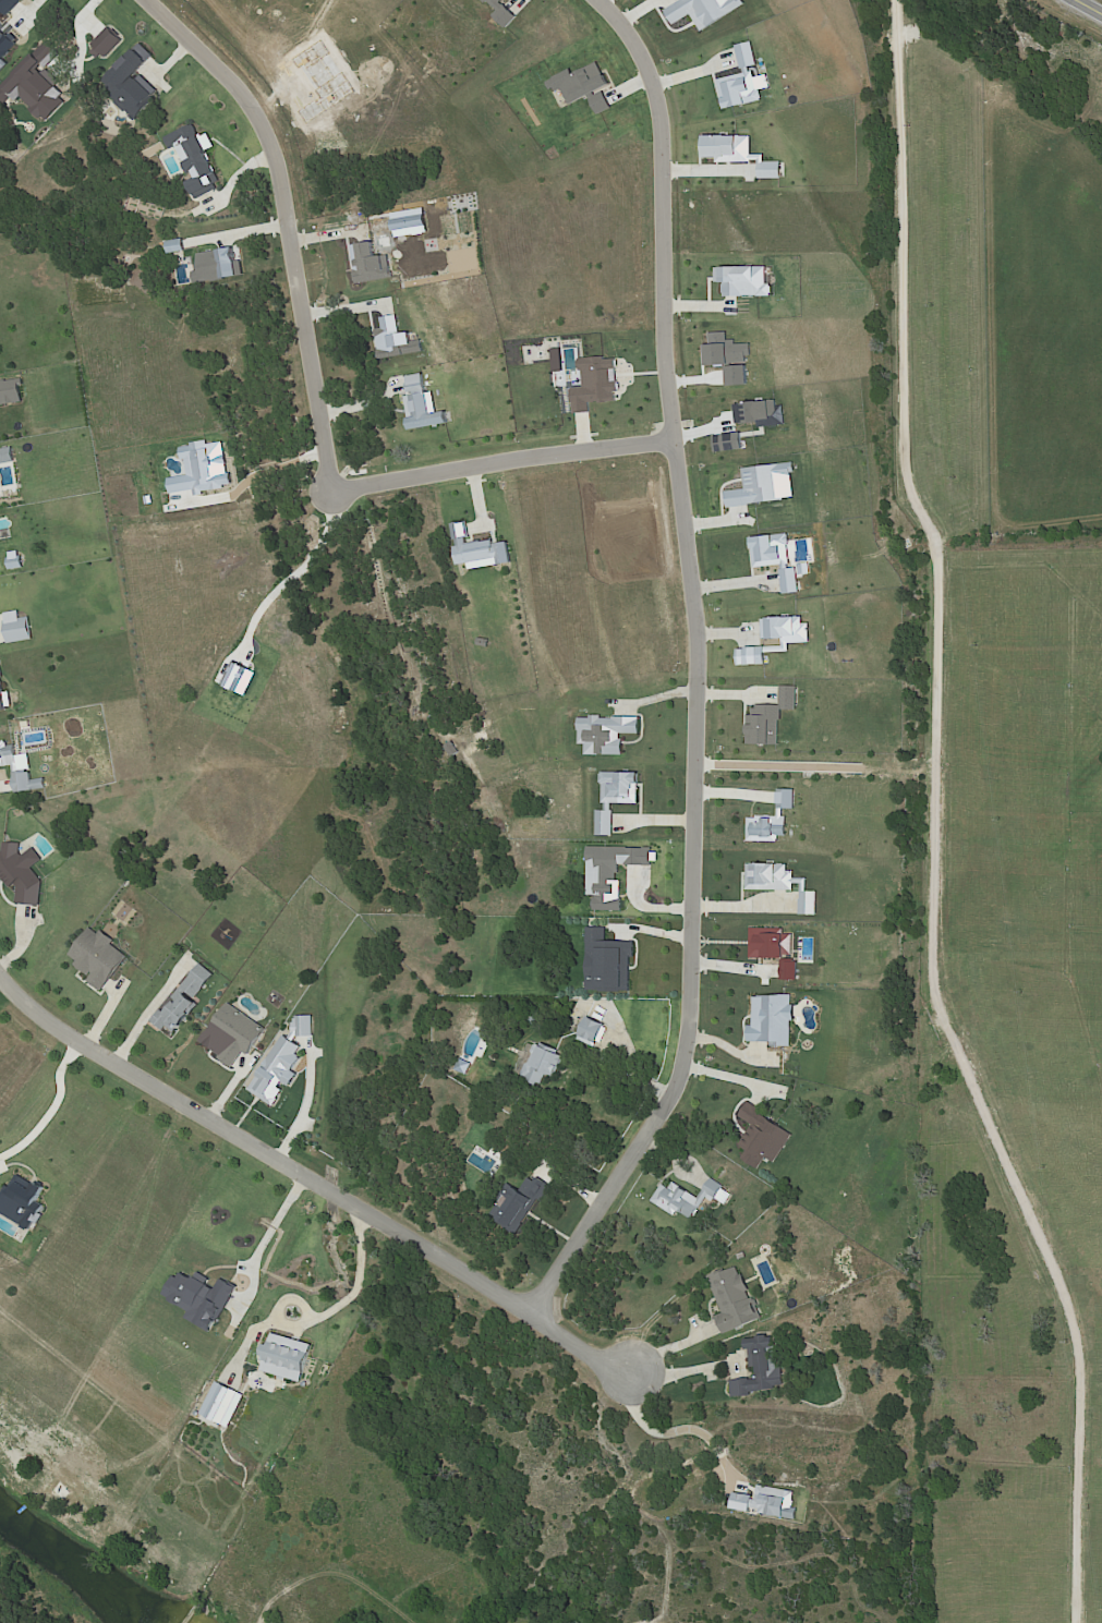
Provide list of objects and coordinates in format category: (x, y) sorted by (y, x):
road: (1092, 4)
road: (29, 11)
road: (290, 222)
road: (499, 464)
road: (276, 468)
road: (302, 571)
road: (693, 668)
road: (933, 821)
road: (739, 906)
road: (147, 1010)
building: (550, 1068)
road: (61, 1105)
road: (306, 1106)
road: (313, 1178)
road: (270, 1239)
road: (325, 1317)
road: (675, 1345)
road: (688, 1370)
road: (678, 1430)

